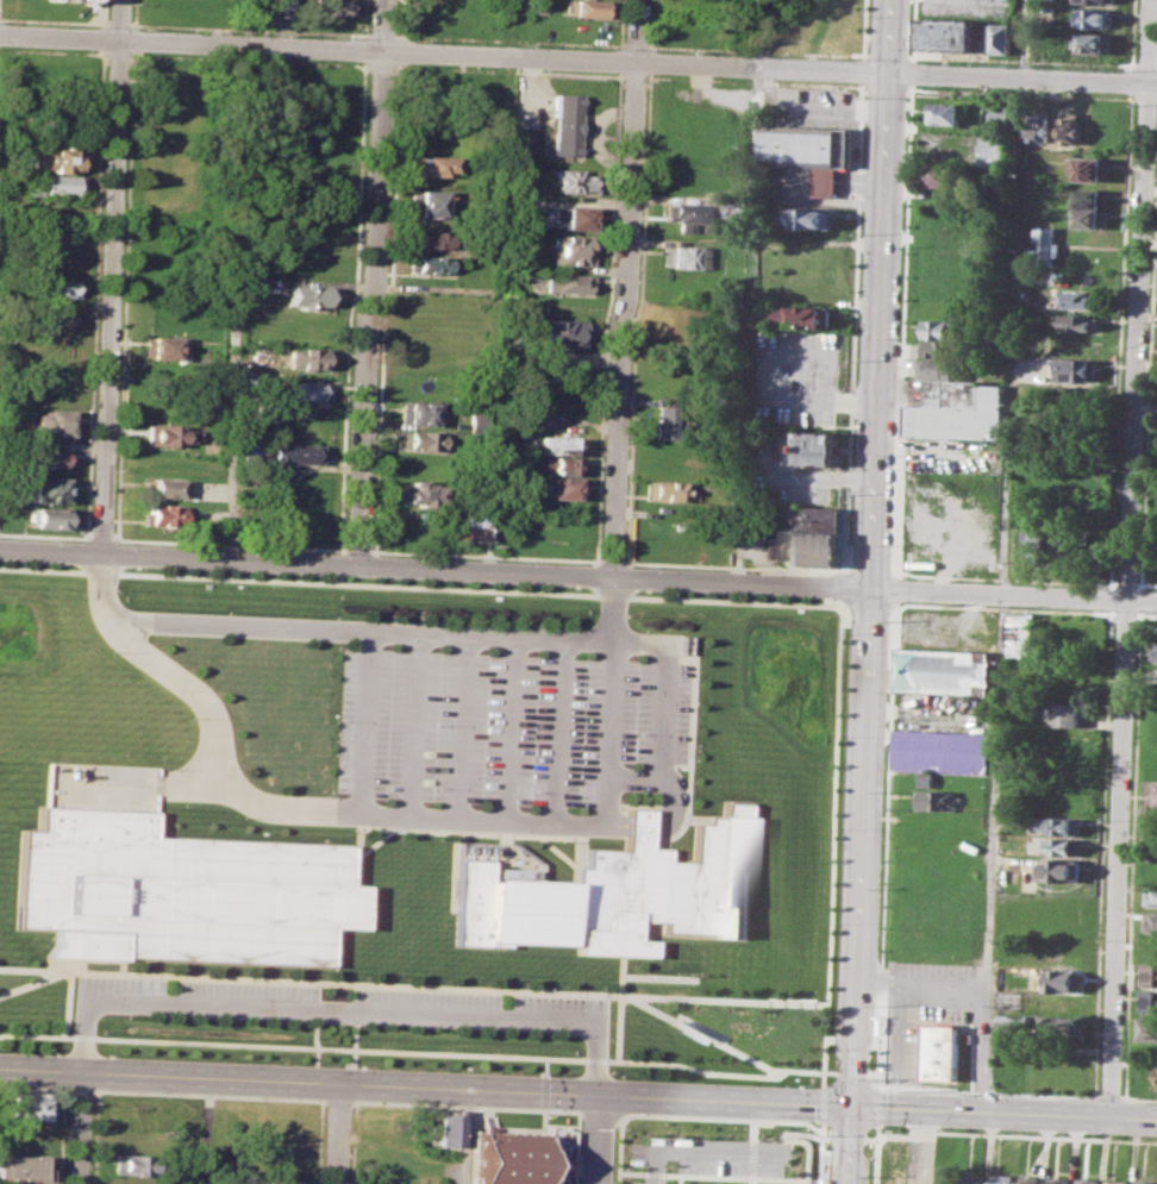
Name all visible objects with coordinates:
building: (69, 0)
building: (281, 1)
building: (1092, 1)
building: (537, 6)
building: (330, 7)
building: (587, 7)
parking lot: (964, 8)
building: (1092, 17)
road: (363, 18)
road: (54, 20)
road: (117, 23)
road: (264, 23)
road: (130, 24)
road: (912, 27)
road: (238, 29)
road: (864, 29)
road: (1130, 32)
road: (380, 33)
road: (758, 33)
building: (946, 35)
building: (997, 38)
road: (506, 39)
road: (1146, 40)
building: (1093, 42)
road: (633, 44)
road: (363, 49)
road: (757, 49)
road: (52, 50)
road: (117, 54)
road: (887, 54)
road: (909, 55)
road: (573, 58)
road: (1020, 58)
road: (362, 64)
road: (1131, 64)
road: (1145, 64)
road: (863, 70)
road: (912, 70)
road: (1151, 83)
building: (948, 112)
building: (1000, 115)
building: (563, 126)
building: (1038, 126)
building: (1069, 126)
building: (1103, 129)
building: (809, 151)
building: (993, 151)
building: (52, 157)
road: (909, 158)
building: (433, 163)
building: (1088, 168)
building: (944, 175)
building: (573, 181)
building: (52, 184)
road: (358, 193)
building: (1089, 196)
building: (432, 203)
building: (517, 206)
building: (689, 213)
building: (575, 215)
building: (808, 217)
building: (1089, 218)
building: (431, 238)
building: (1046, 243)
building: (570, 249)
building: (681, 256)
building: (429, 263)
road: (108, 276)
road: (370, 282)
building: (568, 282)
road: (499, 284)
building: (55, 288)
road: (624, 288)
building: (307, 296)
building: (1080, 299)
road: (236, 301)
building: (801, 317)
building: (1081, 321)
road: (746, 324)
road: (853, 328)
building: (942, 328)
building: (558, 332)
road: (1137, 342)
building: (158, 346)
building: (939, 349)
building: (431, 356)
building: (307, 357)
building: (939, 369)
building: (1078, 370)
parking lot: (795, 376)
building: (1044, 377)
road: (763, 382)
building: (302, 389)
building: (961, 411)
building: (419, 413)
building: (48, 422)
building: (665, 422)
building: (163, 434)
building: (424, 440)
building: (556, 445)
building: (814, 447)
building: (293, 452)
building: (45, 457)
building: (558, 464)
parking lot: (782, 472)
road: (812, 476)
building: (562, 487)
building: (162, 488)
building: (45, 489)
building: (662, 490)
building: (419, 491)
street lamp: (851, 494)
building: (160, 515)
building: (45, 518)
building: (811, 518)
building: (469, 526)
road: (44, 535)
road: (99, 538)
street lamp: (45, 539)
street lamp: (119, 541)
building: (1047, 543)
road: (227, 544)
building: (805, 547)
road: (356, 549)
street lamp: (336, 551)
road: (484, 553)
street lamp: (408, 555)
road: (1006, 555)
street lamp: (523, 560)
road: (611, 560)
road: (339, 564)
street lamp: (645, 565)
road: (733, 565)
street lamp: (748, 570)
road: (563, 574)
road: (339, 578)
road: (838, 585)
road: (419, 587)
street lamp: (115, 589)
road: (869, 591)
road: (1142, 600)
street lamp: (903, 603)
road: (609, 609)
street lamp: (227, 612)
street lamp: (625, 615)
street lamp: (337, 616)
street lamp: (430, 620)
street lamp: (525, 625)
street lamp: (643, 629)
street lamp: (845, 633)
building: (1021, 634)
road: (479, 635)
street lamp: (110, 651)
building: (1156, 651)
building: (946, 670)
street lamp: (692, 701)
road: (607, 710)
building: (1065, 714)
street lamp: (192, 716)
road: (363, 722)
street lamp: (437, 723)
road: (412, 725)
road: (462, 727)
road: (507, 728)
street lamp: (532, 728)
road: (556, 731)
street lamp: (631, 732)
parking lot: (498, 737)
street lamp: (840, 737)
building: (942, 750)
street lamp: (121, 753)
street lamp: (163, 768)
road: (608, 778)
building: (928, 778)
road: (190, 781)
street lamp: (434, 785)
street lamp: (530, 790)
building: (1156, 794)
building: (939, 800)
street lamp: (655, 801)
road: (281, 809)
street lamp: (245, 816)
building: (1062, 825)
street lamp: (354, 828)
street lamp: (837, 828)
road: (831, 834)
street lamp: (459, 835)
street lamp: (561, 840)
building: (1067, 846)
road: (1117, 858)
building: (1153, 867)
building: (1061, 869)
street lamp: (880, 888)
building: (181, 889)
building: (617, 894)
building: (1152, 895)
building: (1151, 920)
street lamp: (834, 923)
flagpole: (683, 972)
flagpole: (689, 972)
flagpole: (696, 972)
building: (1150, 975)
road: (619, 981)
building: (1063, 981)
road: (30, 982)
road: (925, 982)
road: (412, 985)
street lamp: (730, 995)
building: (1149, 1001)
road: (65, 1003)
parking lot: (340, 1004)
street lamp: (876, 1004)
road: (339, 1009)
street lamp: (832, 1009)
street lamp: (129, 1015)
street lamp: (224, 1020)
building: (1013, 1020)
street lamp: (340, 1025)
building: (1065, 1026)
building: (1149, 1028)
street lamp: (448, 1029)
road: (703, 1033)
street lamp: (562, 1034)
building: (942, 1042)
road: (420, 1051)
street lamp: (102, 1053)
street lamp: (223, 1058)
building: (1003, 1061)
street lamp: (334, 1064)
street lamp: (445, 1069)
road: (831, 1071)
street lamp: (561, 1072)
road: (852, 1072)
building: (1142, 1076)
street lamp: (681, 1079)
road: (73, 1083)
street lamp: (815, 1084)
road: (876, 1086)
building: (1156, 1086)
road: (975, 1091)
road: (202, 1094)
street lamp: (975, 1094)
road: (578, 1095)
road: (1107, 1096)
street lamp: (1075, 1097)
road: (1138, 1097)
street lamp: (90, 1103)
road: (823, 1103)
building: (30, 1104)
road: (461, 1104)
road: (61, 1105)
road: (876, 1105)
traffic signals: (852, 1107)
street lamp: (325, 1110)
road: (715, 1116)
road: (821, 1126)
street lamp: (614, 1127)
street lamp: (884, 1127)
road: (82, 1129)
building: (448, 1129)
road: (752, 1129)
road: (204, 1130)
street lamp: (673, 1133)
road: (338, 1134)
street lamp: (827, 1134)
road: (1017, 1134)
street lamp: (721, 1135)
road: (465, 1136)
road: (826, 1136)
road: (846, 1136)
street lamp: (773, 1138)
road: (877, 1138)
road: (594, 1140)
road: (705, 1151)
road: (751, 1157)
building: (505, 1158)
road: (876, 1161)
building: (135, 1164)
building: (21, 1167)
road: (631, 1172)
road: (653, 1173)
road: (671, 1173)
building: (945, 1177)
building: (975, 1177)
building: (1003, 1178)
road: (750, 1179)
road: (792, 1179)
building: (281, 1180)
road: (809, 1180)
road: (819, 1180)
building: (1118, 1180)
building: (1030, 1182)
building: (1059, 1182)
building: (1146, 1182)
building: (18, 1183)
building: (1087, 1183)

